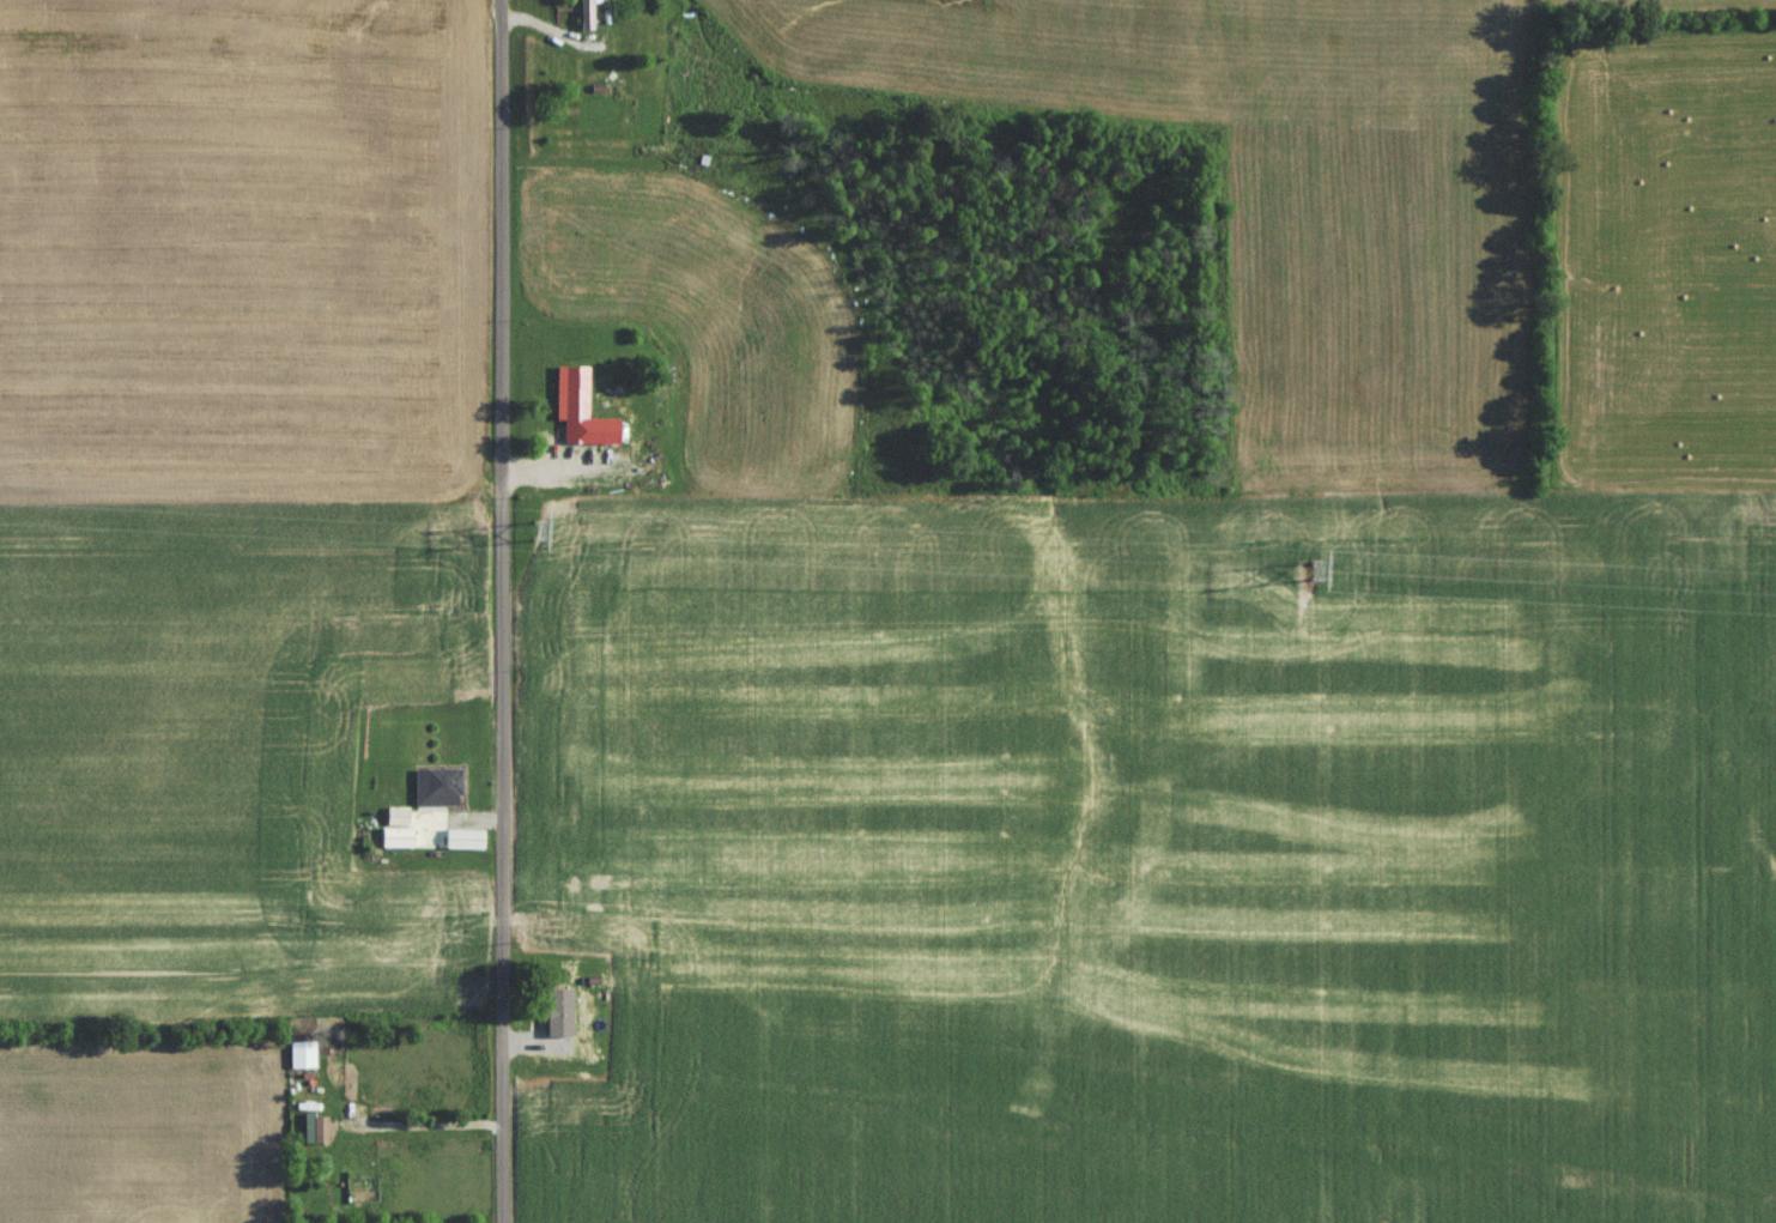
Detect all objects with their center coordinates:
building: (582, 17)
building: (568, 396)
building: (576, 438)
power tower: (531, 534)
power tower: (1307, 574)
road: (505, 611)
building: (436, 786)
building: (392, 822)
building: (392, 842)
building: (460, 844)
building: (552, 1015)
building: (299, 1107)
road: (425, 1127)
building: (314, 1136)

